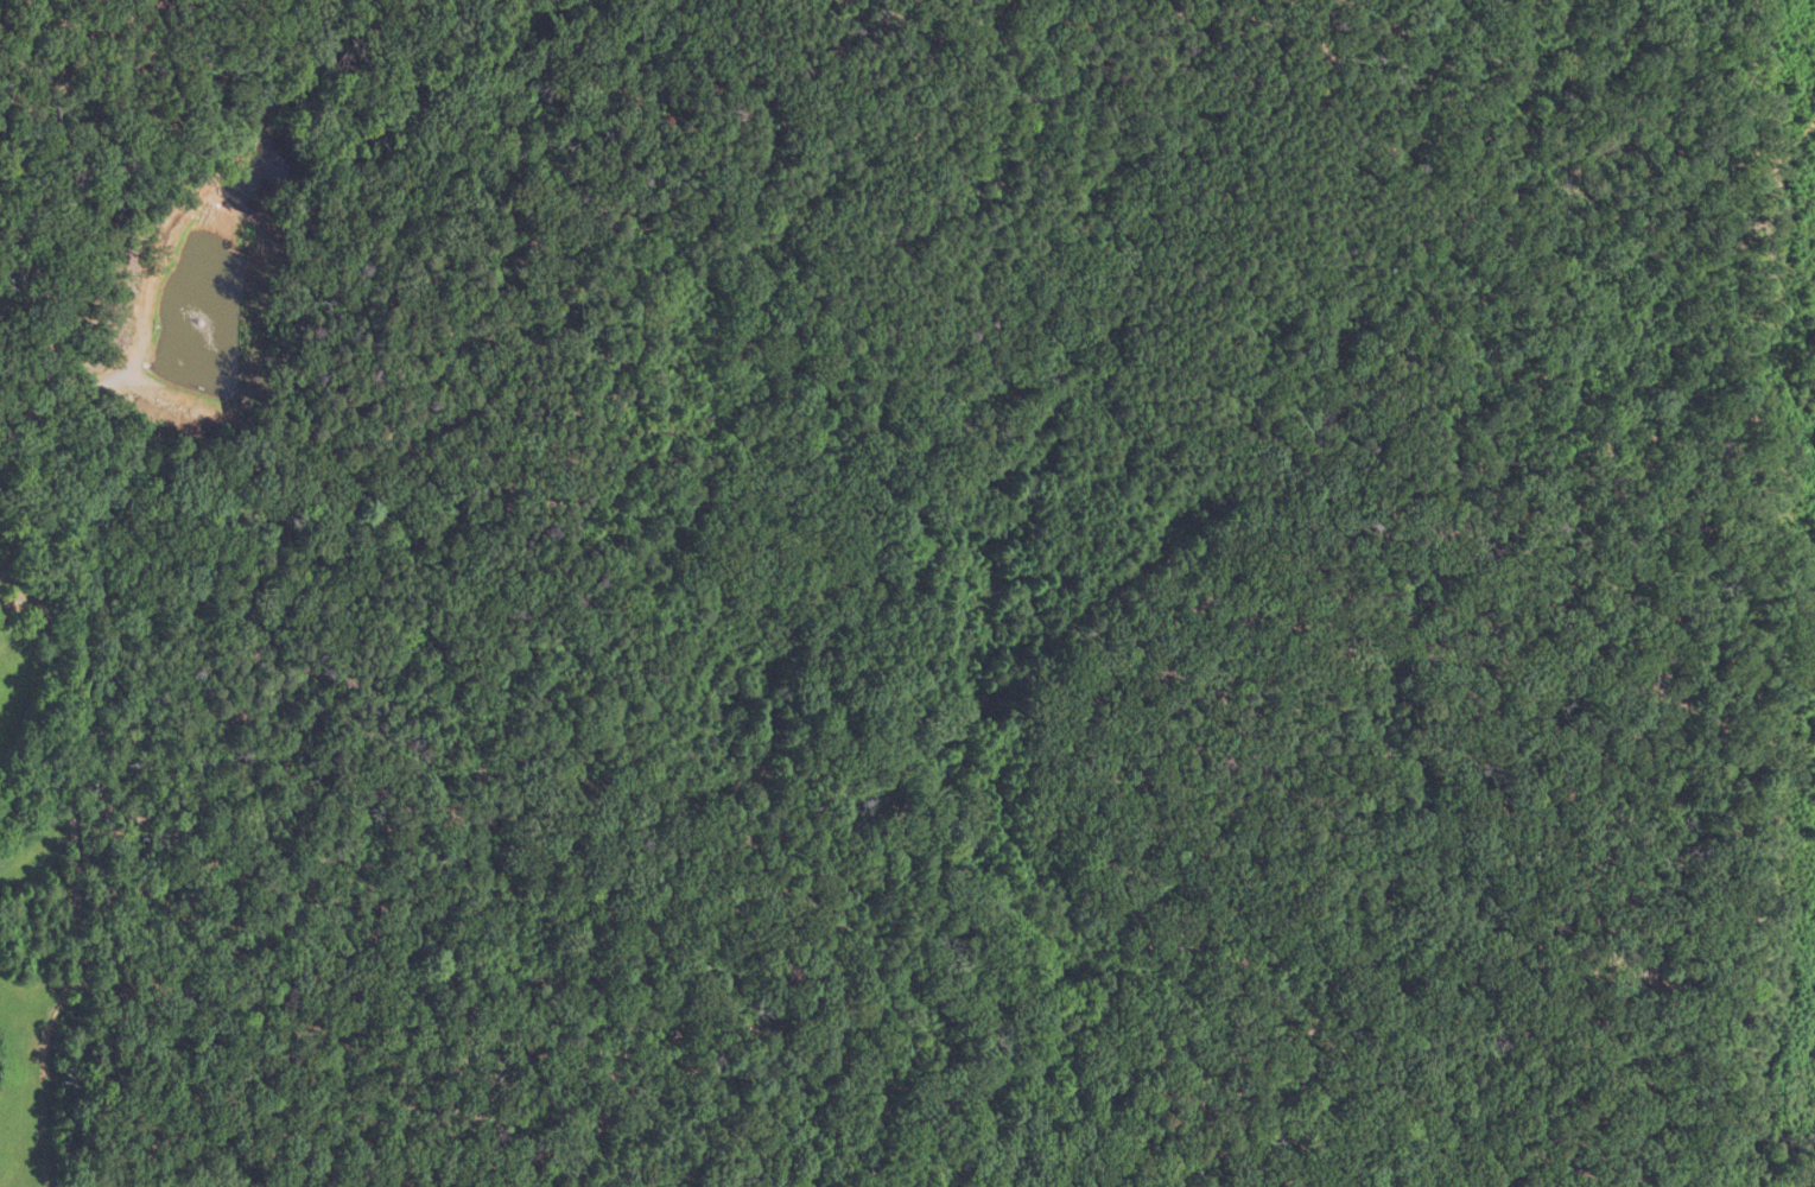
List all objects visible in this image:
road: (21, 69)

